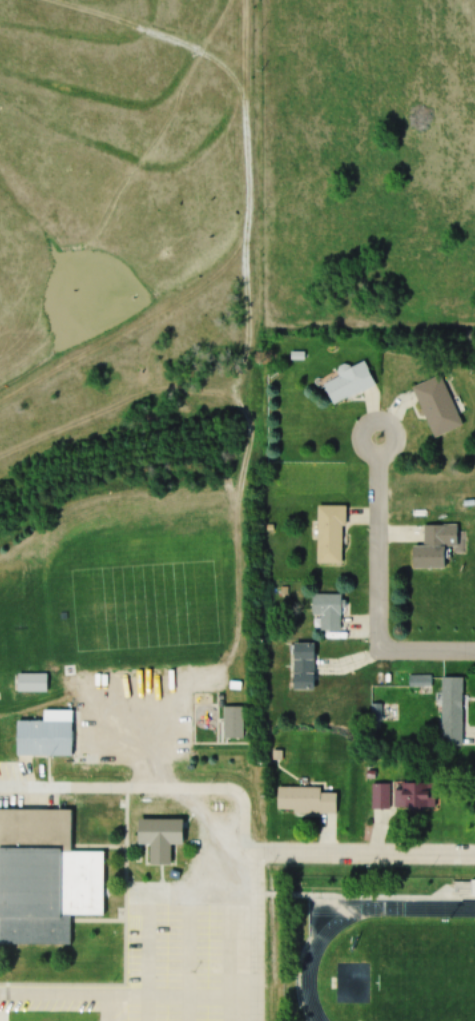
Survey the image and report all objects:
building: (347, 382)
building: (435, 406)
building: (328, 533)
building: (432, 544)
road: (377, 587)
building: (325, 609)
building: (301, 665)
building: (30, 681)
building: (449, 710)
building: (231, 721)
building: (43, 736)
building: (411, 794)
building: (378, 795)
building: (303, 799)
building: (158, 837)
road: (366, 854)
road: (131, 871)
building: (43, 877)
building: (463, 889)
road: (255, 937)
park: (424, 972)

